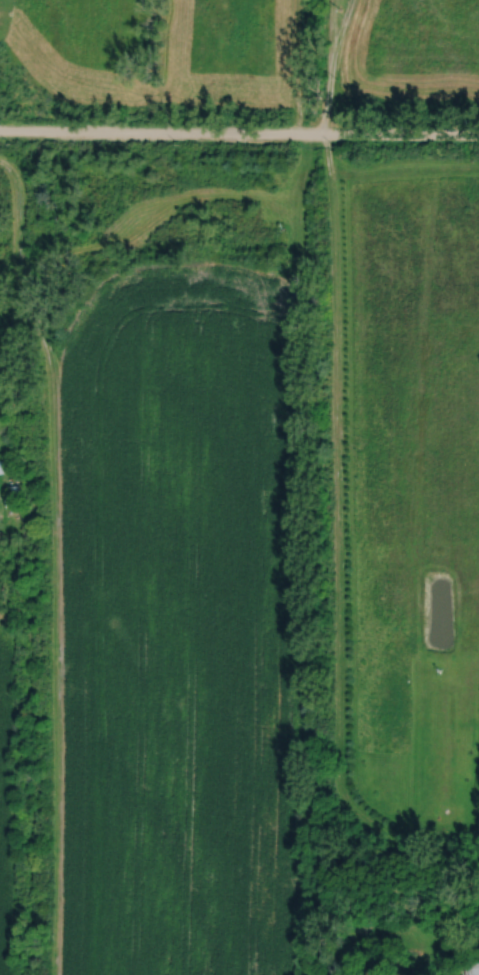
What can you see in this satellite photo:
road: (239, 136)
building: (6, 466)
road: (336, 475)
building: (15, 500)

